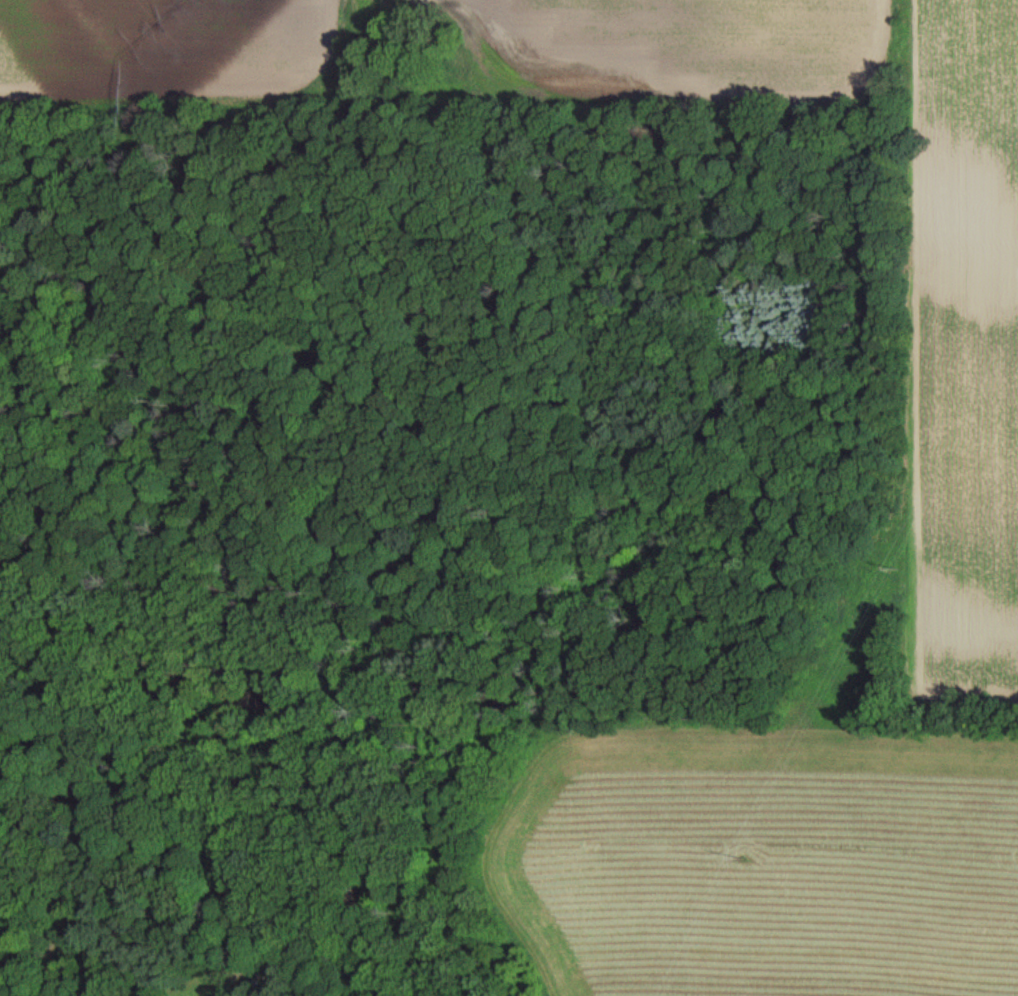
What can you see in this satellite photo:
power tower: (904, 568)
power tower: (745, 856)

